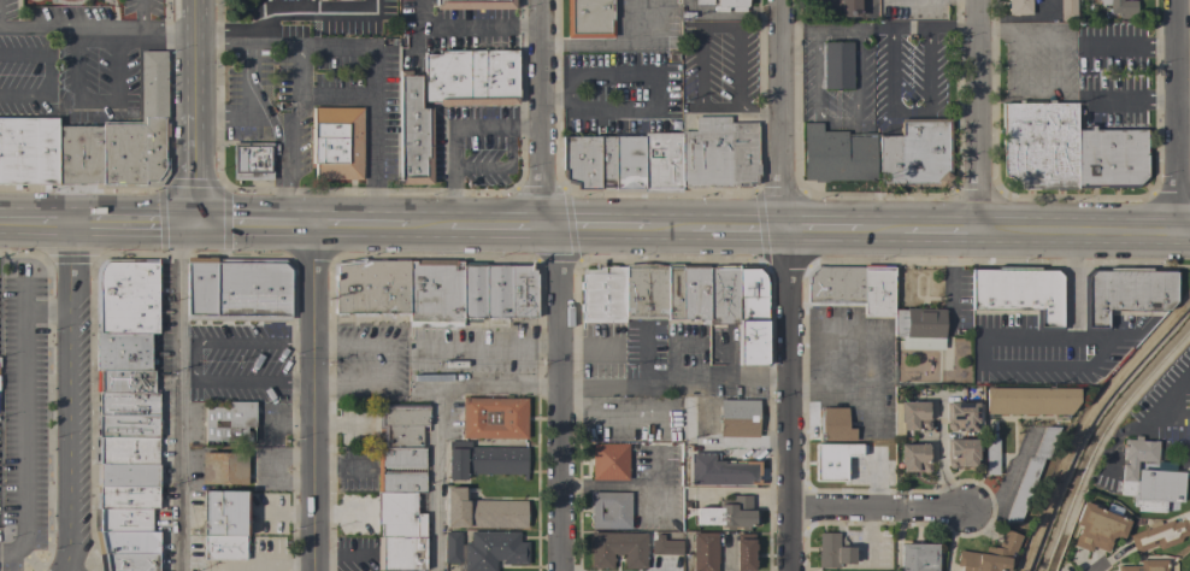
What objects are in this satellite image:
building: (702, 1)
building: (475, 4)
building: (730, 5)
building: (837, 7)
building: (1018, 7)
building: (1120, 7)
building: (1067, 10)
road: (142, 13)
road: (317, 17)
building: (588, 18)
road: (99, 27)
road: (954, 27)
road: (223, 28)
road: (801, 30)
road: (700, 31)
road: (247, 36)
road: (1080, 41)
road: (272, 43)
road: (360, 43)
road: (612, 45)
road: (199, 58)
building: (836, 65)
road: (299, 69)
road: (47, 73)
building: (471, 77)
road: (251, 81)
road: (1098, 100)
road: (654, 101)
road: (762, 108)
road: (890, 110)
road: (538, 113)
road: (234, 116)
road: (982, 117)
road: (1180, 117)
road: (855, 119)
road: (373, 123)
building: (413, 133)
building: (120, 139)
road: (288, 141)
building: (336, 142)
building: (1039, 145)
building: (28, 152)
road: (273, 152)
building: (924, 152)
building: (718, 153)
building: (836, 154)
building: (1111, 158)
building: (251, 160)
building: (581, 160)
building: (606, 161)
building: (661, 161)
building: (889, 161)
road: (200, 170)
road: (281, 206)
road: (40, 220)
road: (140, 222)
traffic signals: (201, 223)
road: (302, 224)
road: (426, 225)
road: (494, 226)
road: (552, 228)
road: (605, 229)
road: (666, 230)
road: (740, 231)
road: (824, 232)
road: (879, 234)
road: (942, 234)
road: (1086, 234)
road: (790, 284)
building: (835, 284)
building: (370, 287)
building: (201, 288)
building: (253, 289)
building: (644, 290)
building: (877, 290)
building: (497, 292)
building: (673, 292)
building: (694, 292)
building: (1020, 292)
building: (434, 293)
building: (1124, 293)
building: (602, 295)
building: (721, 295)
building: (125, 298)
building: (752, 316)
building: (919, 328)
road: (473, 346)
building: (122, 353)
road: (196, 361)
road: (387, 364)
road: (1058, 367)
road: (677, 377)
building: (124, 382)
road: (76, 396)
road: (178, 396)
road: (318, 398)
road: (564, 399)
road: (1171, 399)
building: (1030, 400)
building: (125, 405)
road: (24, 412)
road: (436, 413)
building: (914, 416)
building: (961, 416)
building: (493, 418)
building: (738, 418)
building: (229, 422)
building: (1188, 422)
building: (401, 424)
building: (833, 425)
building: (126, 426)
building: (124, 451)
building: (960, 452)
building: (991, 457)
building: (914, 458)
building: (484, 460)
building: (831, 460)
building: (609, 461)
building: (223, 469)
building: (378, 470)
building: (1189, 470)
building: (721, 471)
building: (1031, 472)
building: (129, 476)
building: (1148, 478)
building: (126, 498)
building: (609, 510)
road: (878, 510)
building: (224, 512)
building: (482, 512)
building: (729, 513)
building: (397, 516)
building: (120, 519)
building: (1097, 526)
building: (1160, 534)
road: (866, 537)
road: (948, 540)
building: (126, 542)
building: (665, 546)
building: (224, 547)
building: (452, 547)
building: (493, 549)
building: (618, 549)
building: (703, 551)
building: (744, 552)
building: (832, 552)
building: (400, 553)
building: (990, 555)
building: (918, 558)
building: (128, 561)
park: (1183, 563)
road: (264, 565)
building: (1145, 565)

